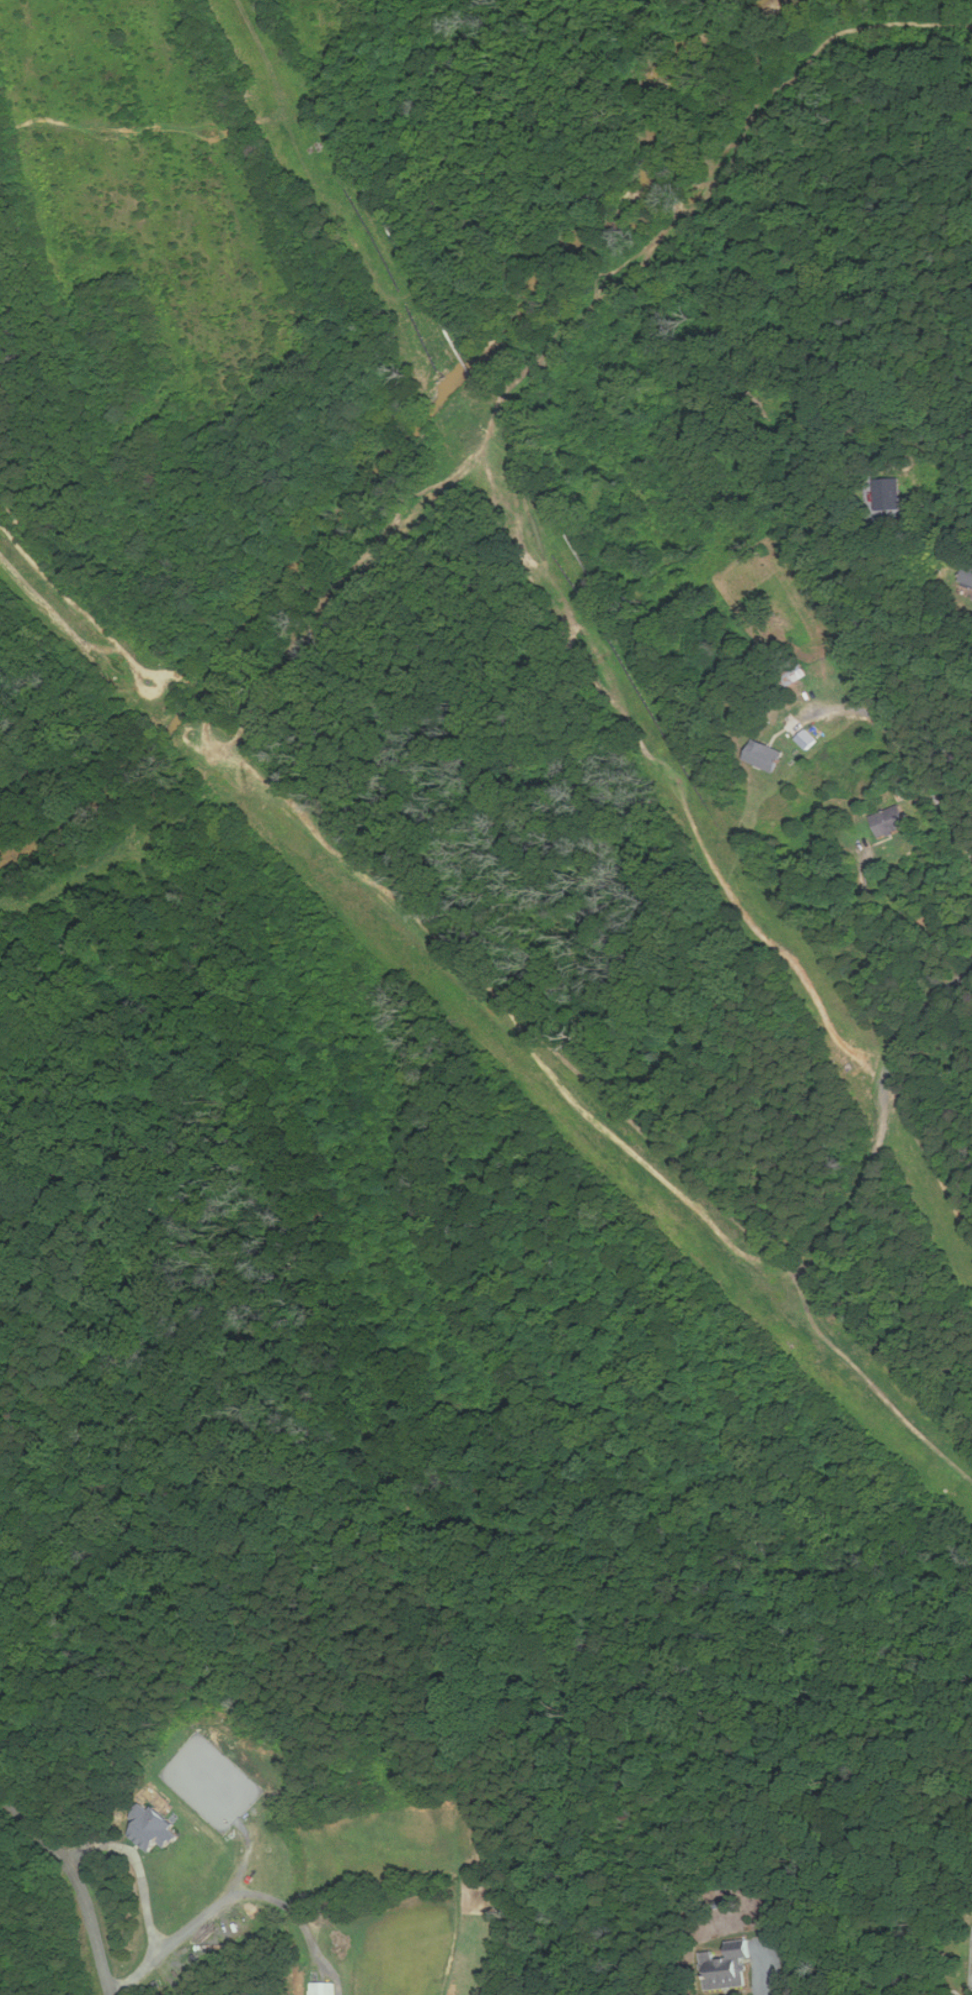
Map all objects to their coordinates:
building: (890, 493)
building: (968, 573)
road: (66, 598)
road: (896, 702)
building: (808, 739)
building: (766, 755)
road: (909, 763)
building: (891, 820)
building: (154, 1828)
road: (139, 1867)
road: (77, 1881)
road: (236, 1896)
building: (729, 1966)
building: (324, 1988)
road: (763, 1993)

